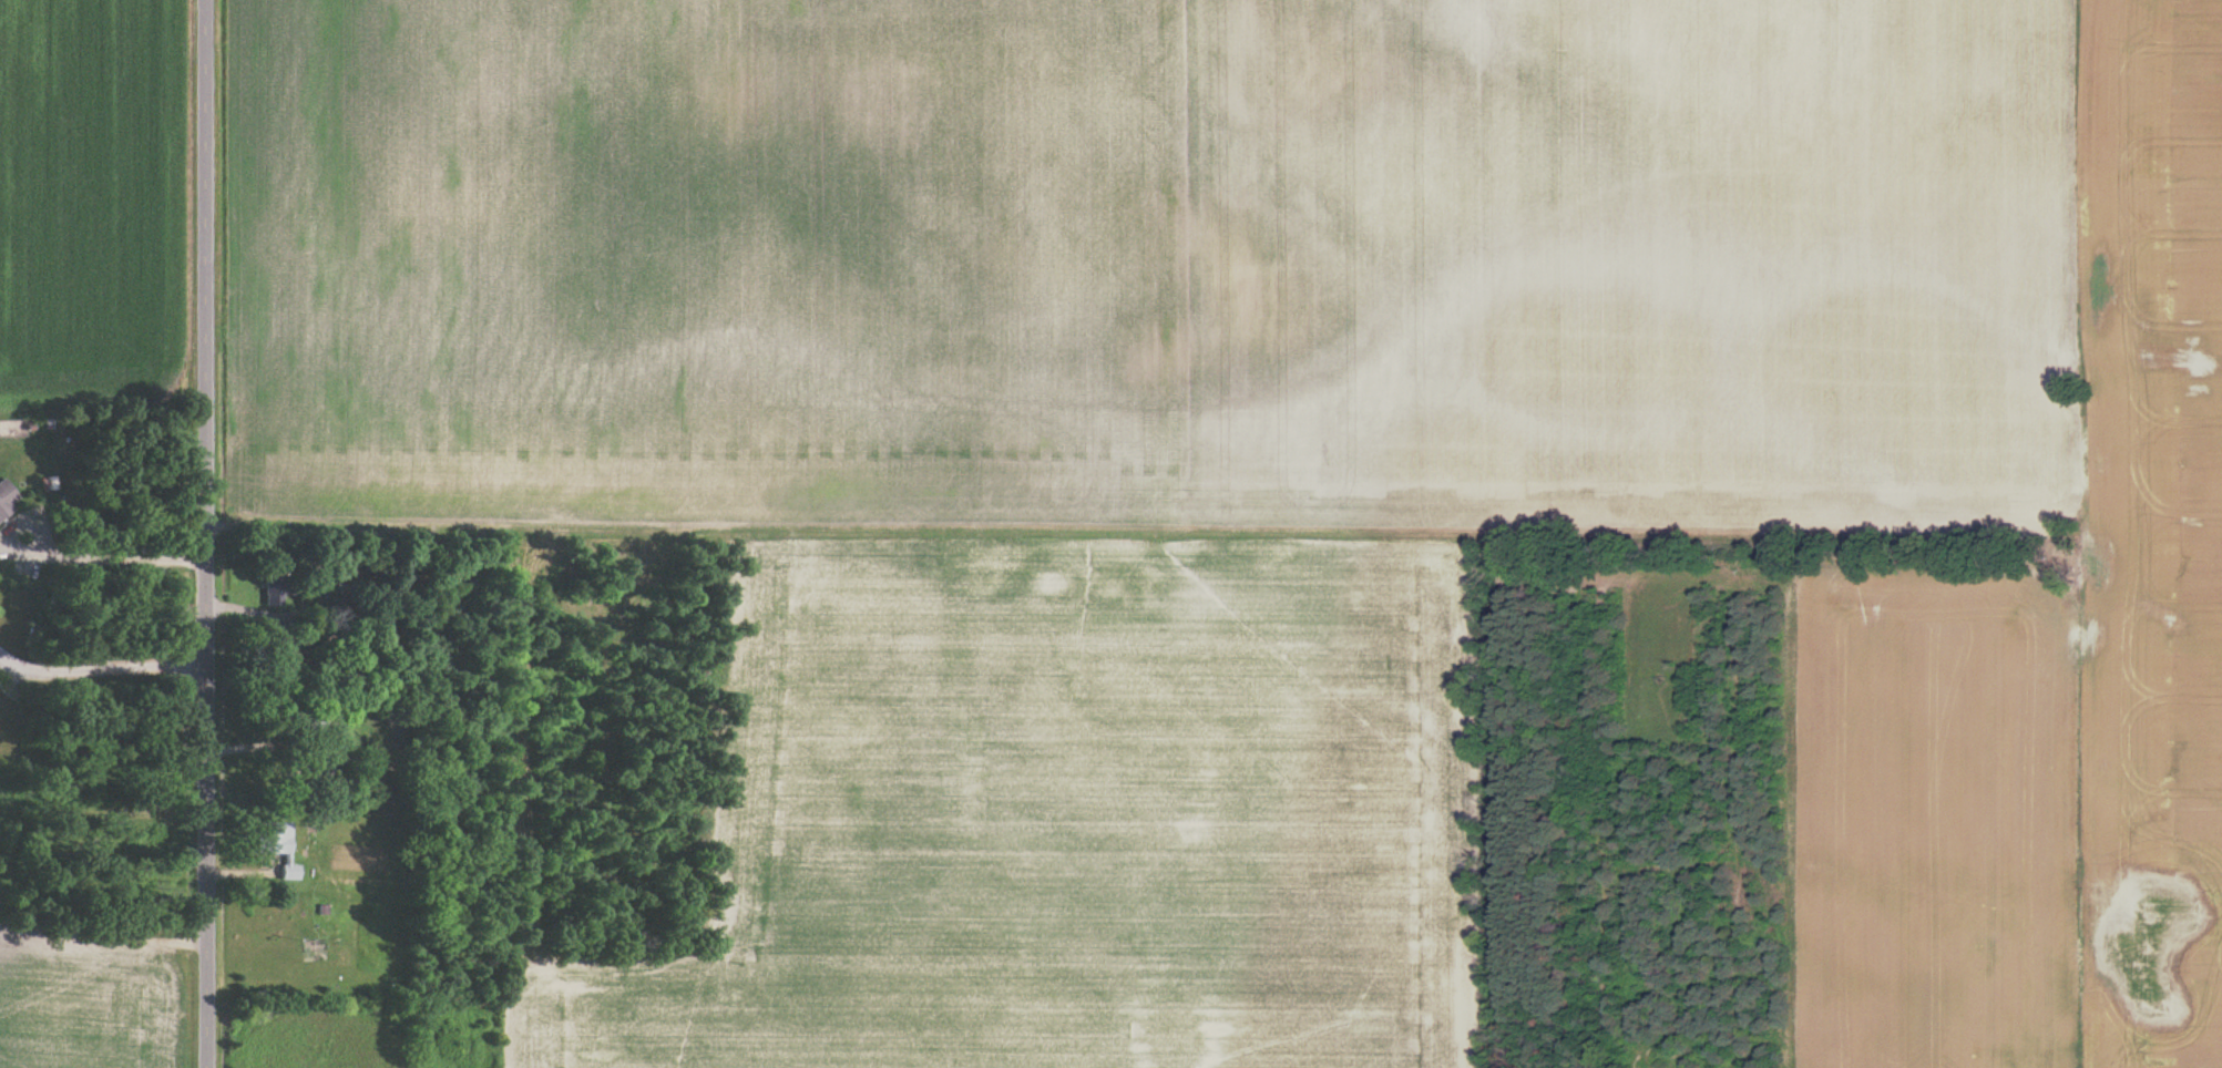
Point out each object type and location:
building: (8, 499)
road: (195, 533)
road: (66, 557)
building: (281, 589)
road: (95, 668)
building: (285, 843)

